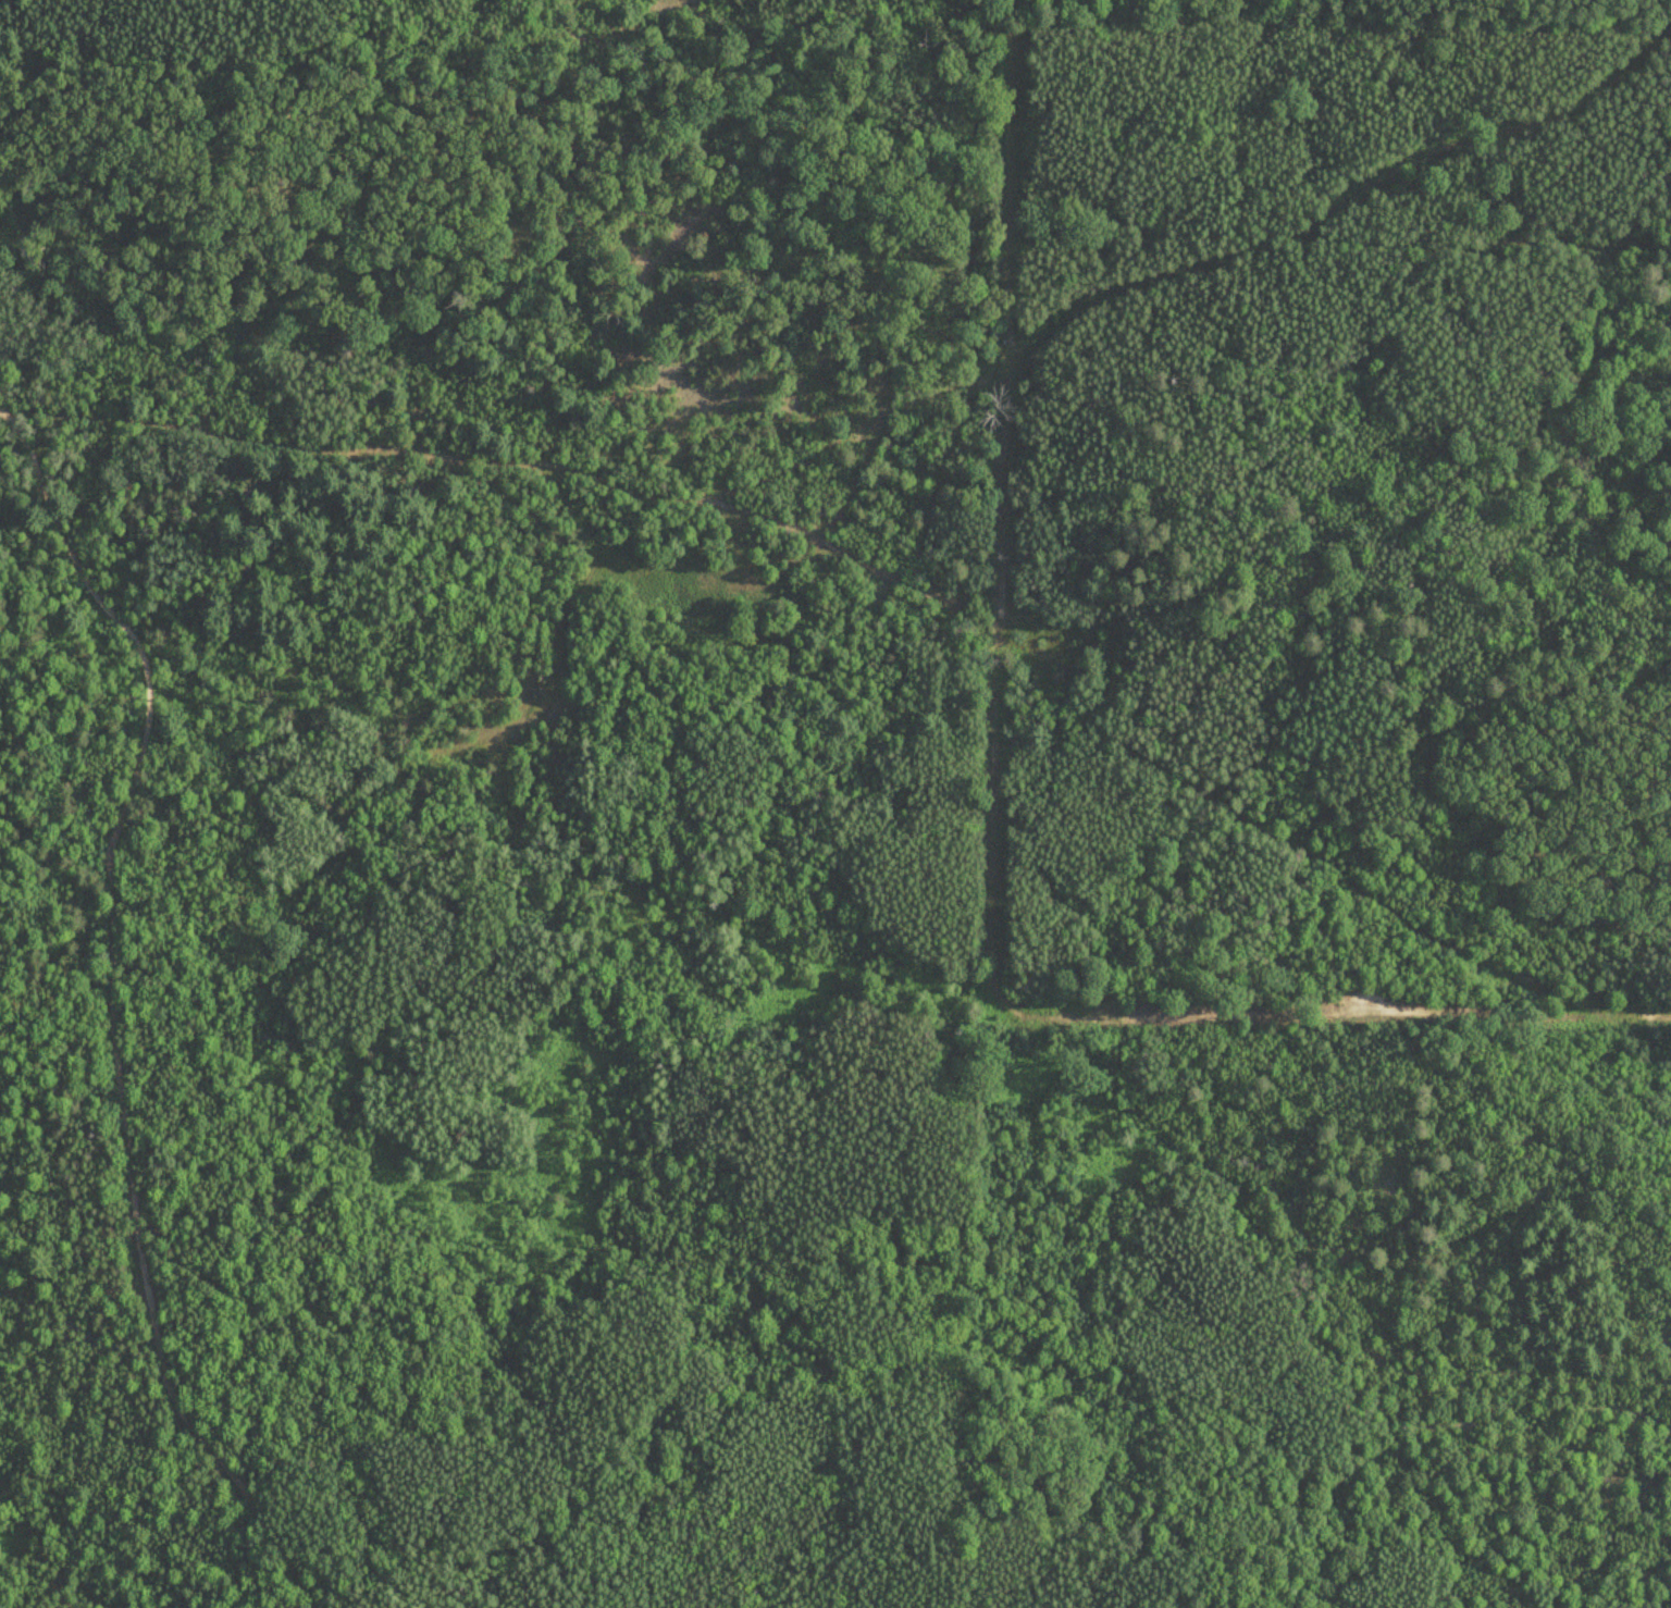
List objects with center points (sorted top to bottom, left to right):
road: (891, 574)
road: (112, 1012)

